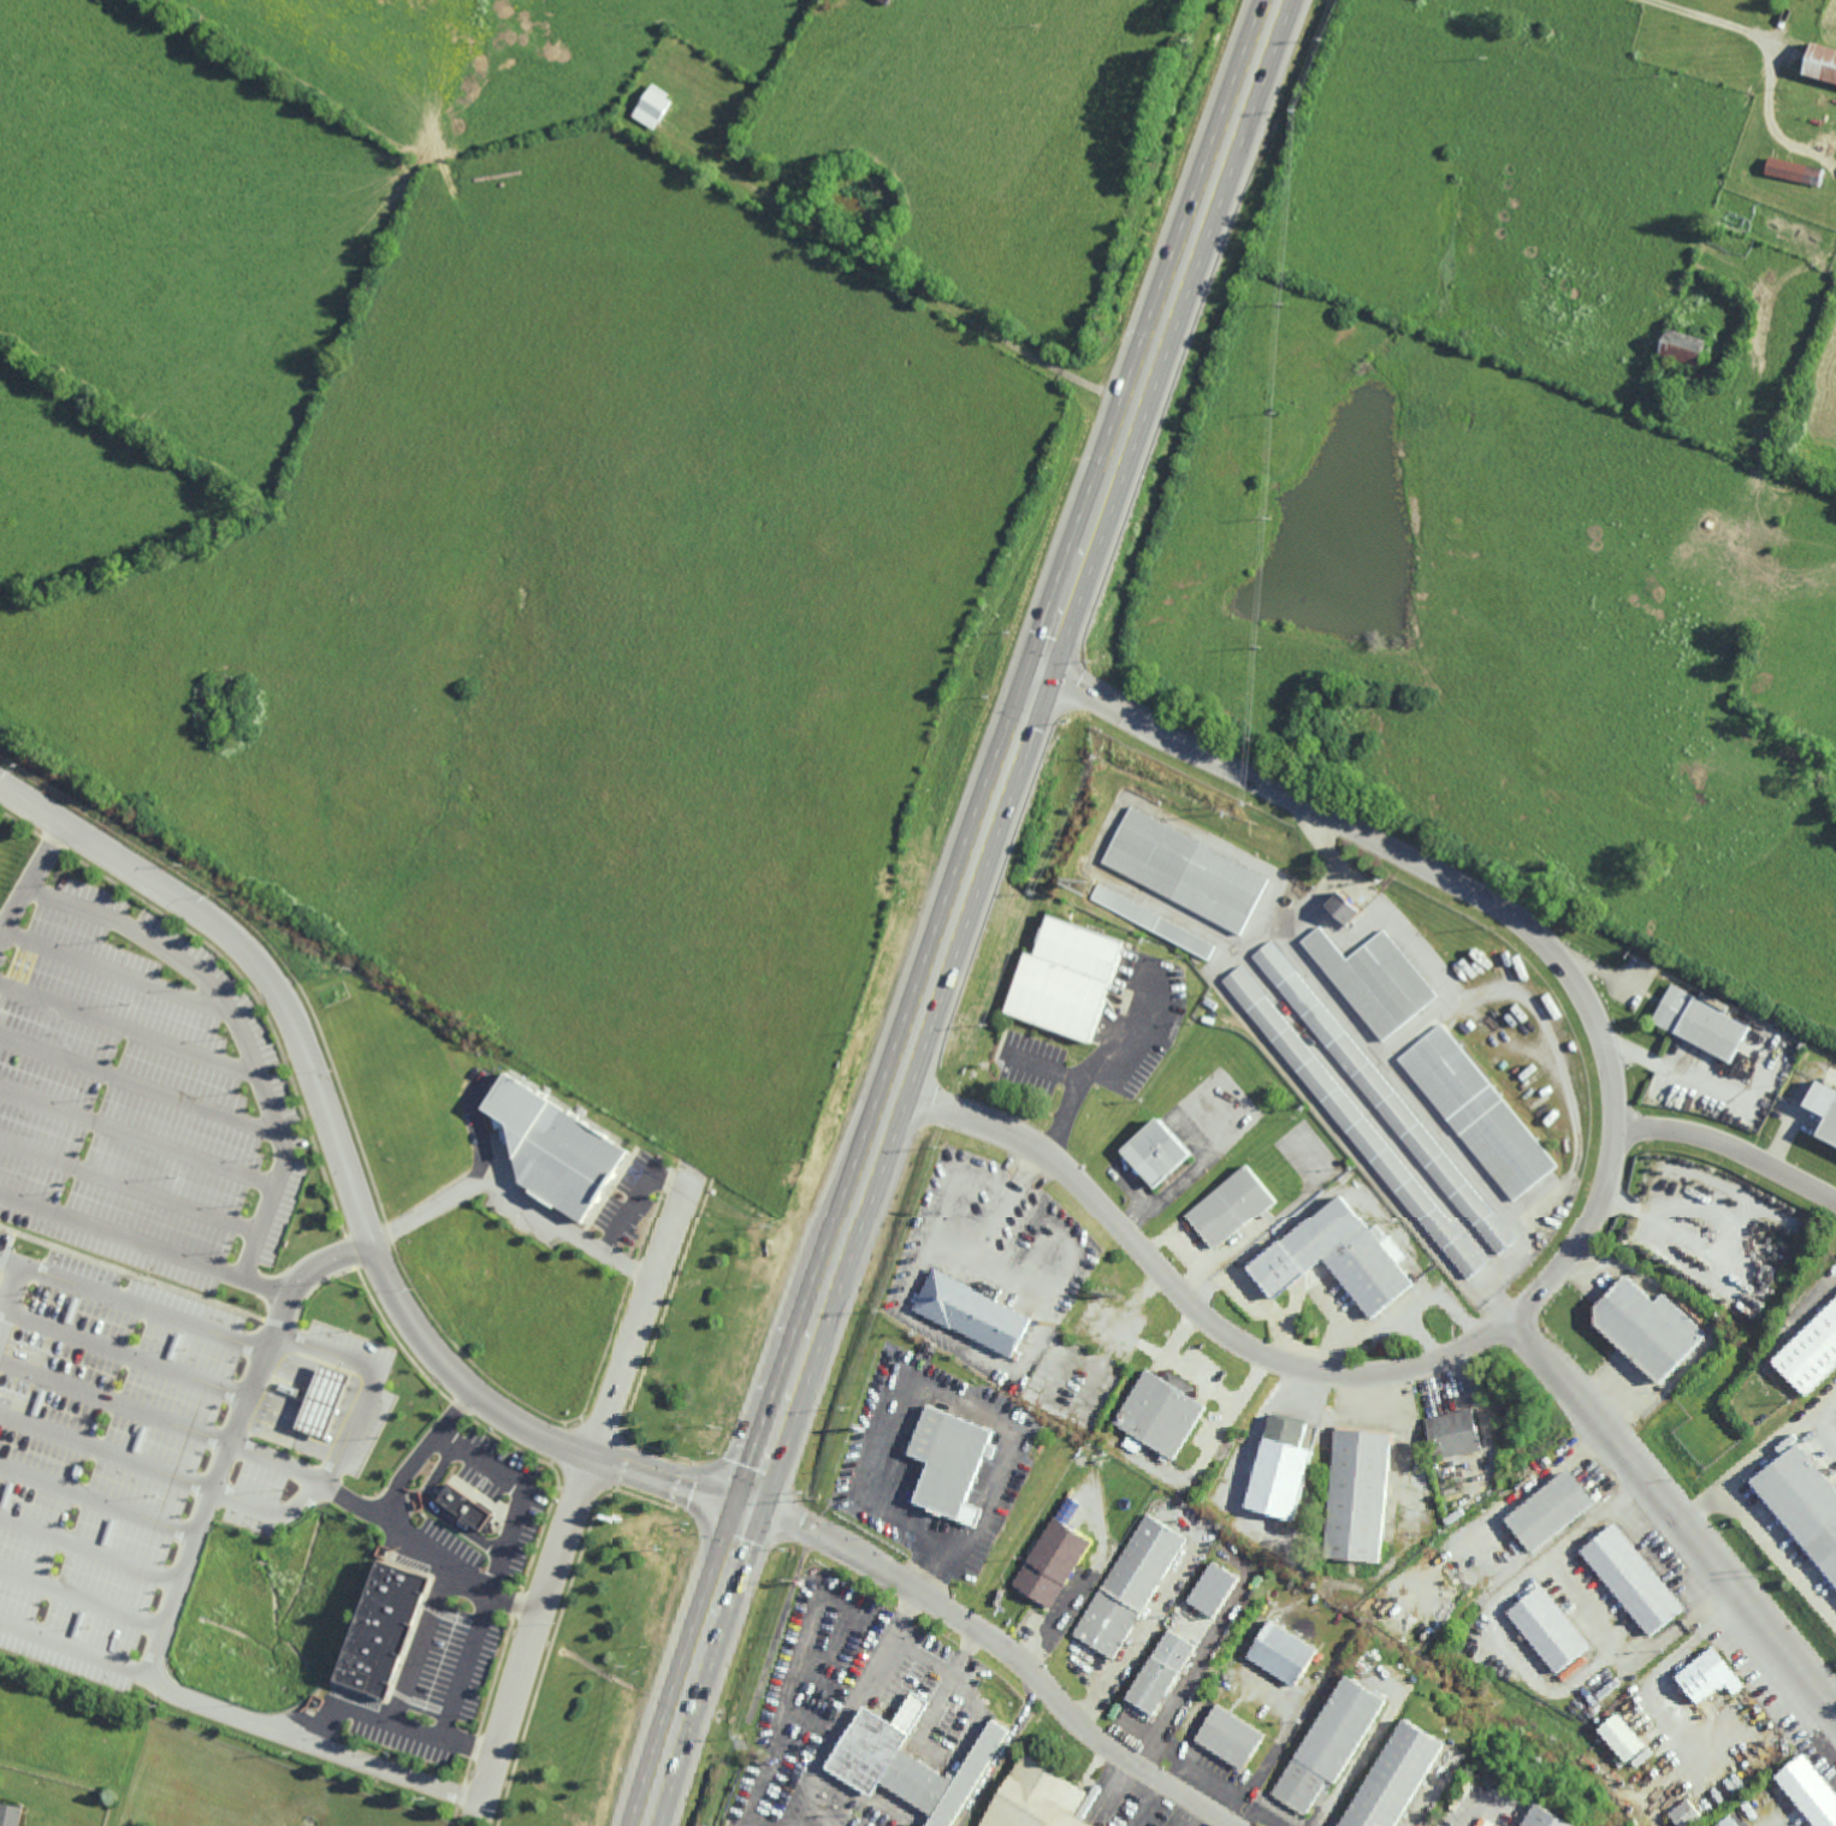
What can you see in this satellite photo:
building: (886, 0)
road: (1772, 60)
building: (1822, 60)
building: (652, 106)
building: (1795, 171)
road: (902, 279)
building: (1682, 345)
building: (1185, 870)
road: (29, 875)
road: (1487, 900)
building: (1344, 907)
road: (957, 911)
building: (1153, 921)
road: (119, 976)
building: (1068, 976)
building: (1375, 979)
park: (334, 992)
road: (241, 1019)
building: (1701, 1022)
road: (129, 1027)
road: (1102, 1062)
road: (1042, 1067)
road: (140, 1084)
traffic signals: (895, 1091)
building: (1385, 1098)
building: (1824, 1107)
building: (1477, 1111)
building: (1355, 1124)
road: (136, 1133)
road: (1728, 1146)
building: (1157, 1151)
building: (558, 1152)
road: (345, 1178)
road: (130, 1179)
road: (510, 1181)
road: (1167, 1192)
building: (1231, 1208)
road: (147, 1238)
building: (1339, 1259)
building: (991, 1293)
road: (1183, 1296)
road: (132, 1299)
road: (13, 1305)
building: (973, 1316)
road: (935, 1324)
building: (1647, 1330)
road: (1137, 1341)
road: (131, 1353)
building: (1811, 1354)
road: (372, 1386)
road: (898, 1398)
road: (117, 1399)
road: (1221, 1399)
gas station: (326, 1400)
building: (326, 1401)
building: (1161, 1413)
road: (1829, 1416)
building: (1455, 1436)
road: (233, 1441)
road: (108, 1448)
road: (1758, 1462)
building: (950, 1465)
building: (1281, 1471)
road: (574, 1492)
road: (1523, 1495)
road: (101, 1496)
building: (1360, 1498)
traffic signals: (752, 1505)
building: (1805, 1505)
building: (469, 1506)
road: (440, 1508)
road: (366, 1512)
building: (1552, 1512)
road: (978, 1519)
road: (1675, 1520)
road: (93, 1548)
road: (940, 1553)
building: (1054, 1565)
building: (1633, 1582)
road: (494, 1587)
building: (1131, 1588)
building: (1215, 1591)
road: (84, 1595)
road: (496, 1595)
road: (445, 1602)
road: (1594, 1612)
building: (389, 1629)
building: (1550, 1631)
road: (1142, 1642)
road: (999, 1650)
building: (1284, 1655)
road: (967, 1659)
road: (924, 1661)
road: (1194, 1673)
road: (1662, 1673)
building: (1163, 1674)
building: (1710, 1678)
road: (854, 1709)
road: (783, 1713)
road: (239, 1714)
road: (377, 1719)
building: (1231, 1739)
building: (1623, 1741)
road: (1153, 1744)
building: (1331, 1745)
road: (1002, 1759)
building: (910, 1765)
building: (1397, 1779)
building: (1810, 1792)
building: (1040, 1800)
building: (11, 1814)
road: (822, 1815)
building: (1686, 1815)
building: (1545, 1819)
building: (1731, 1821)
road: (782, 1825)
road: (793, 1825)

